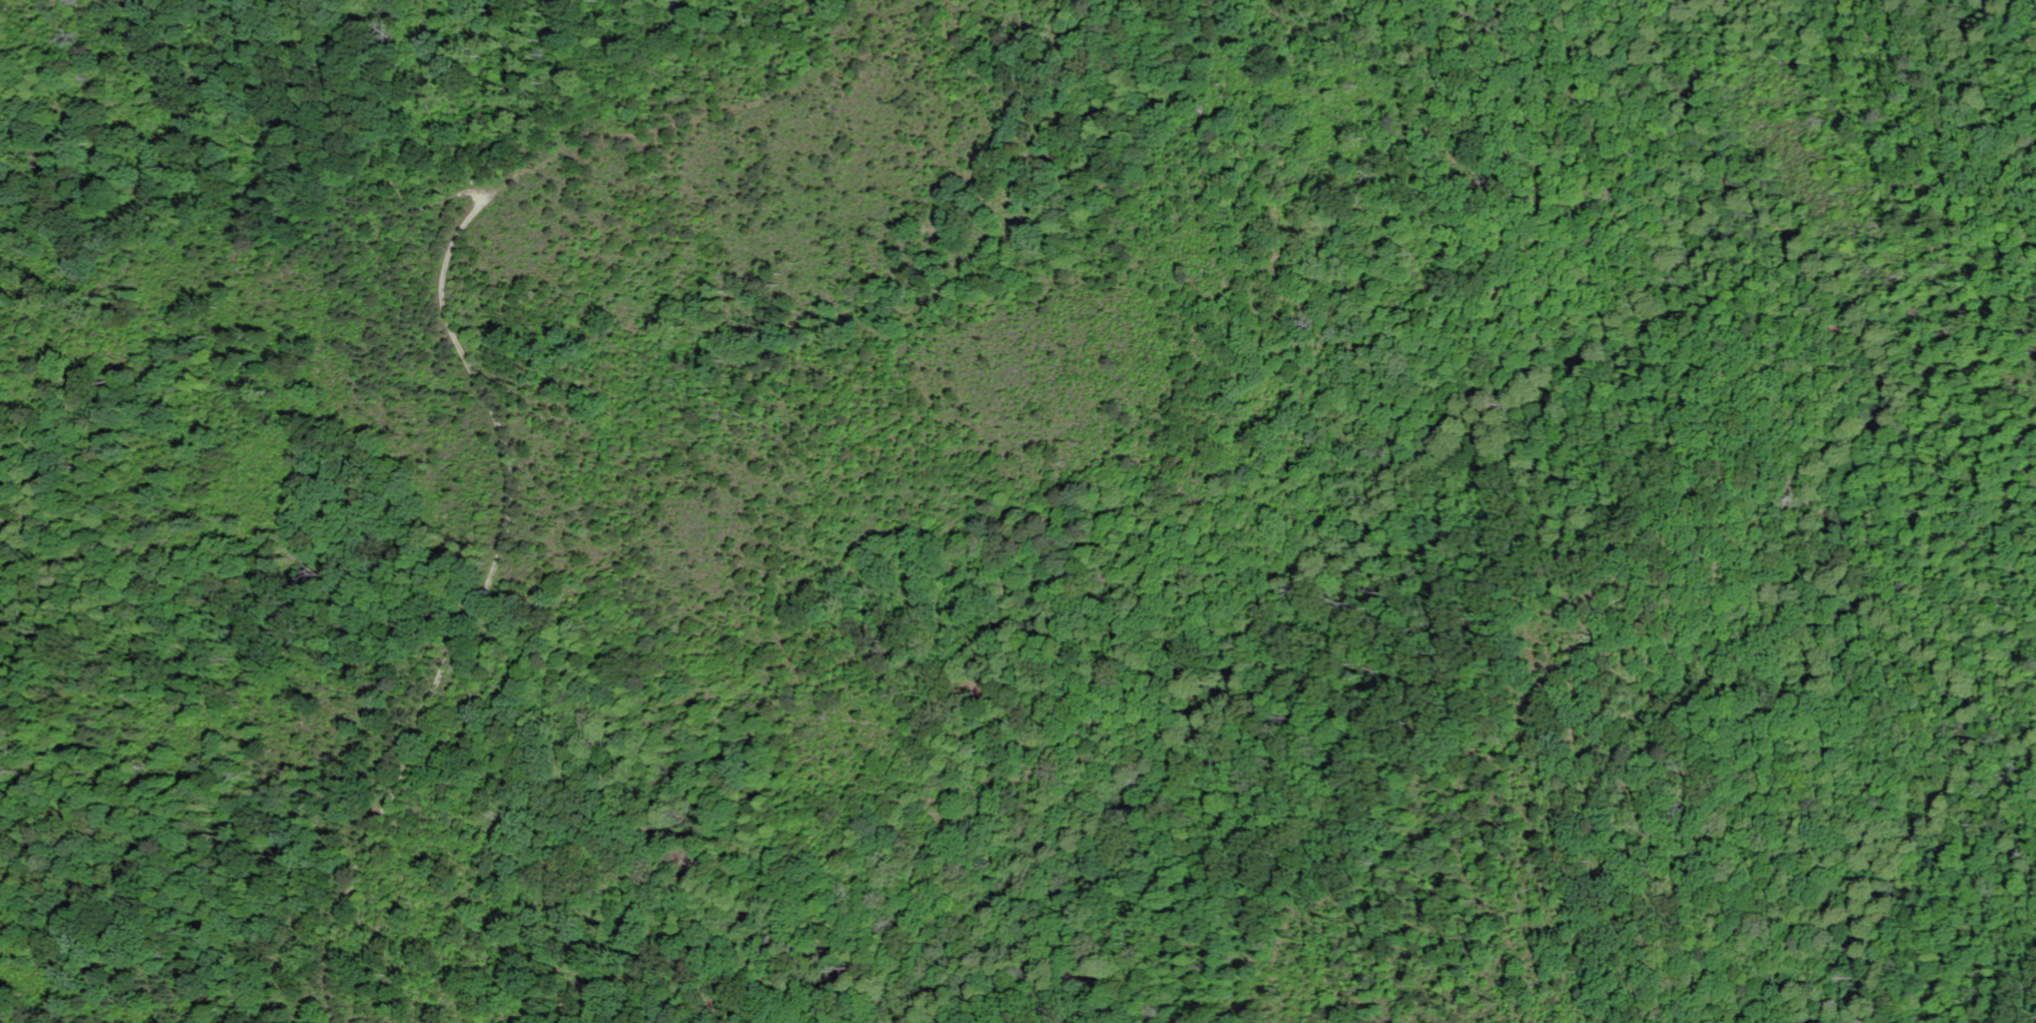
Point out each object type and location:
road: (365, 863)

